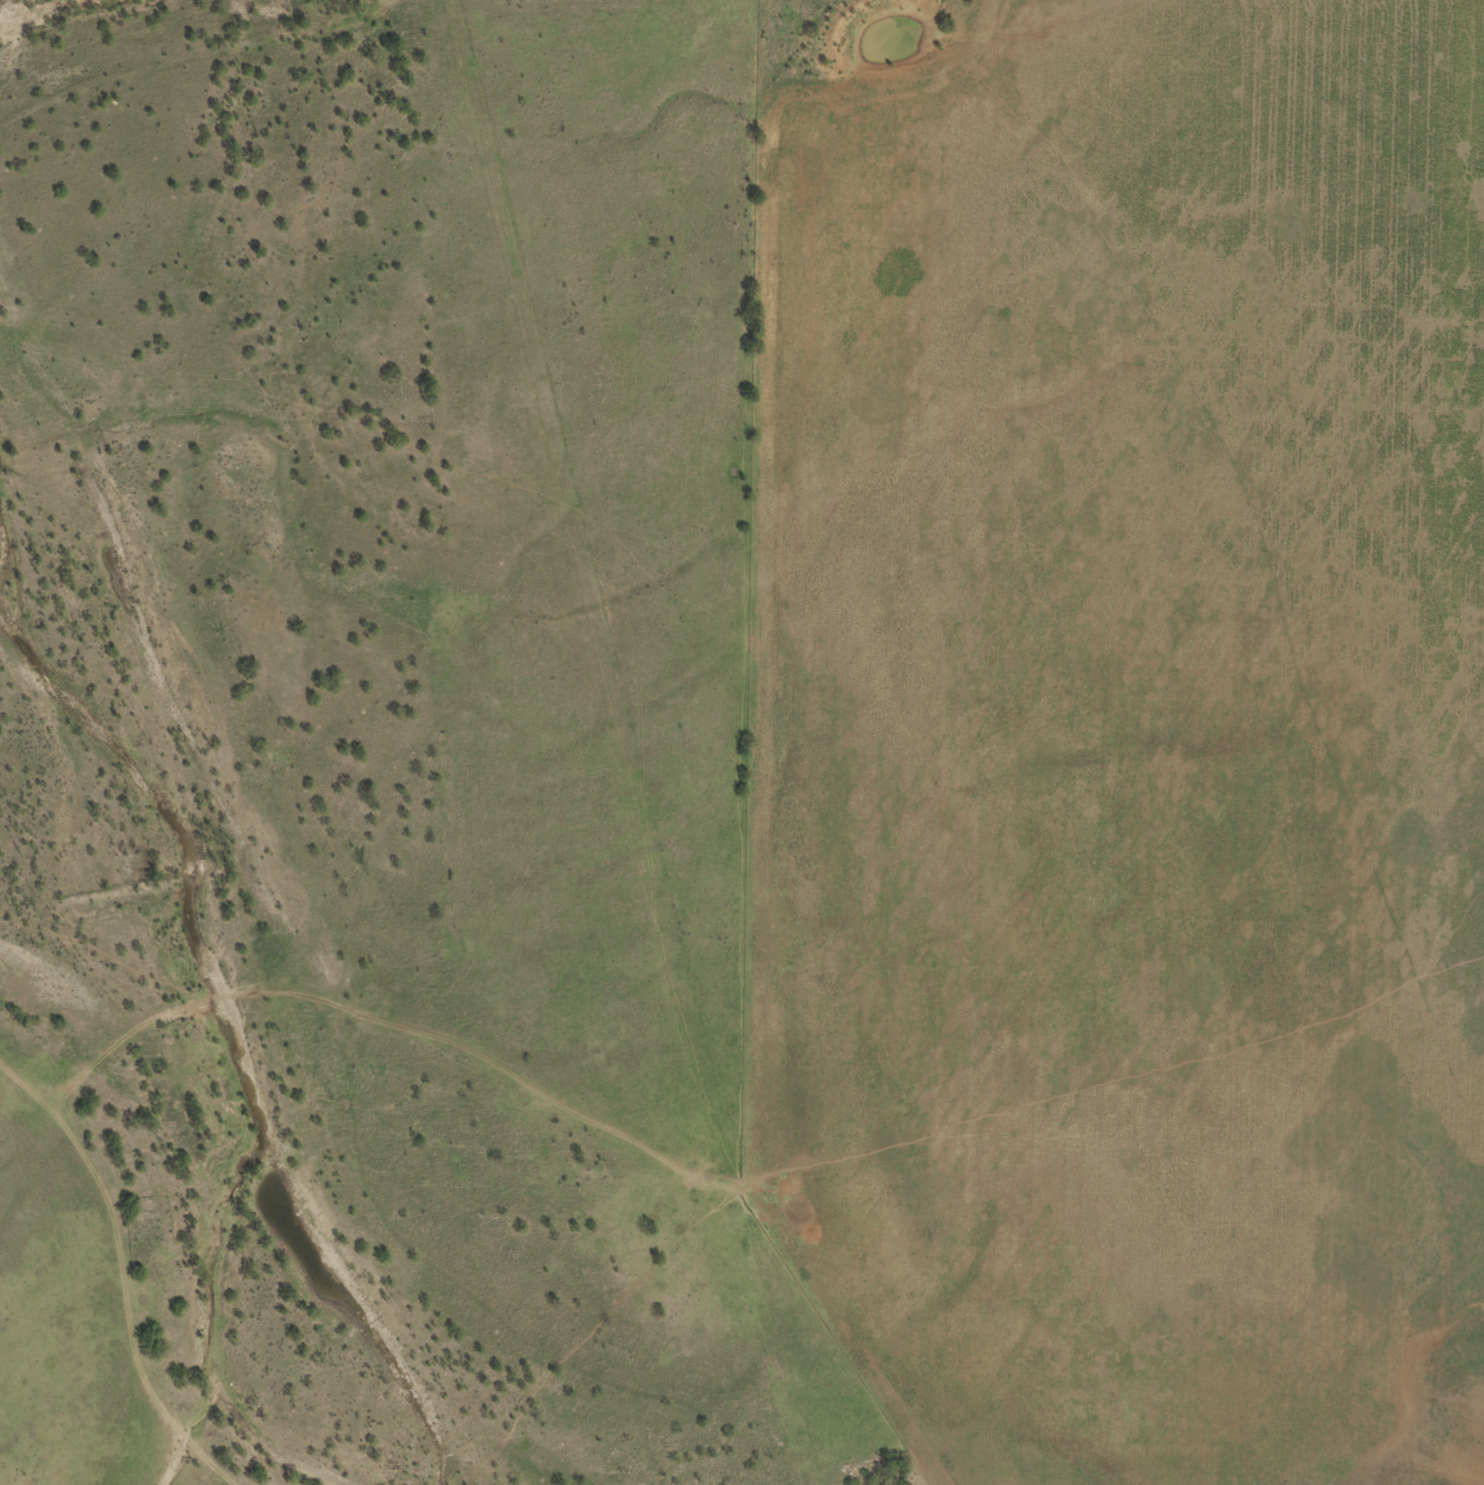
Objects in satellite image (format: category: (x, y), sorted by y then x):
road: (125, 1269)

